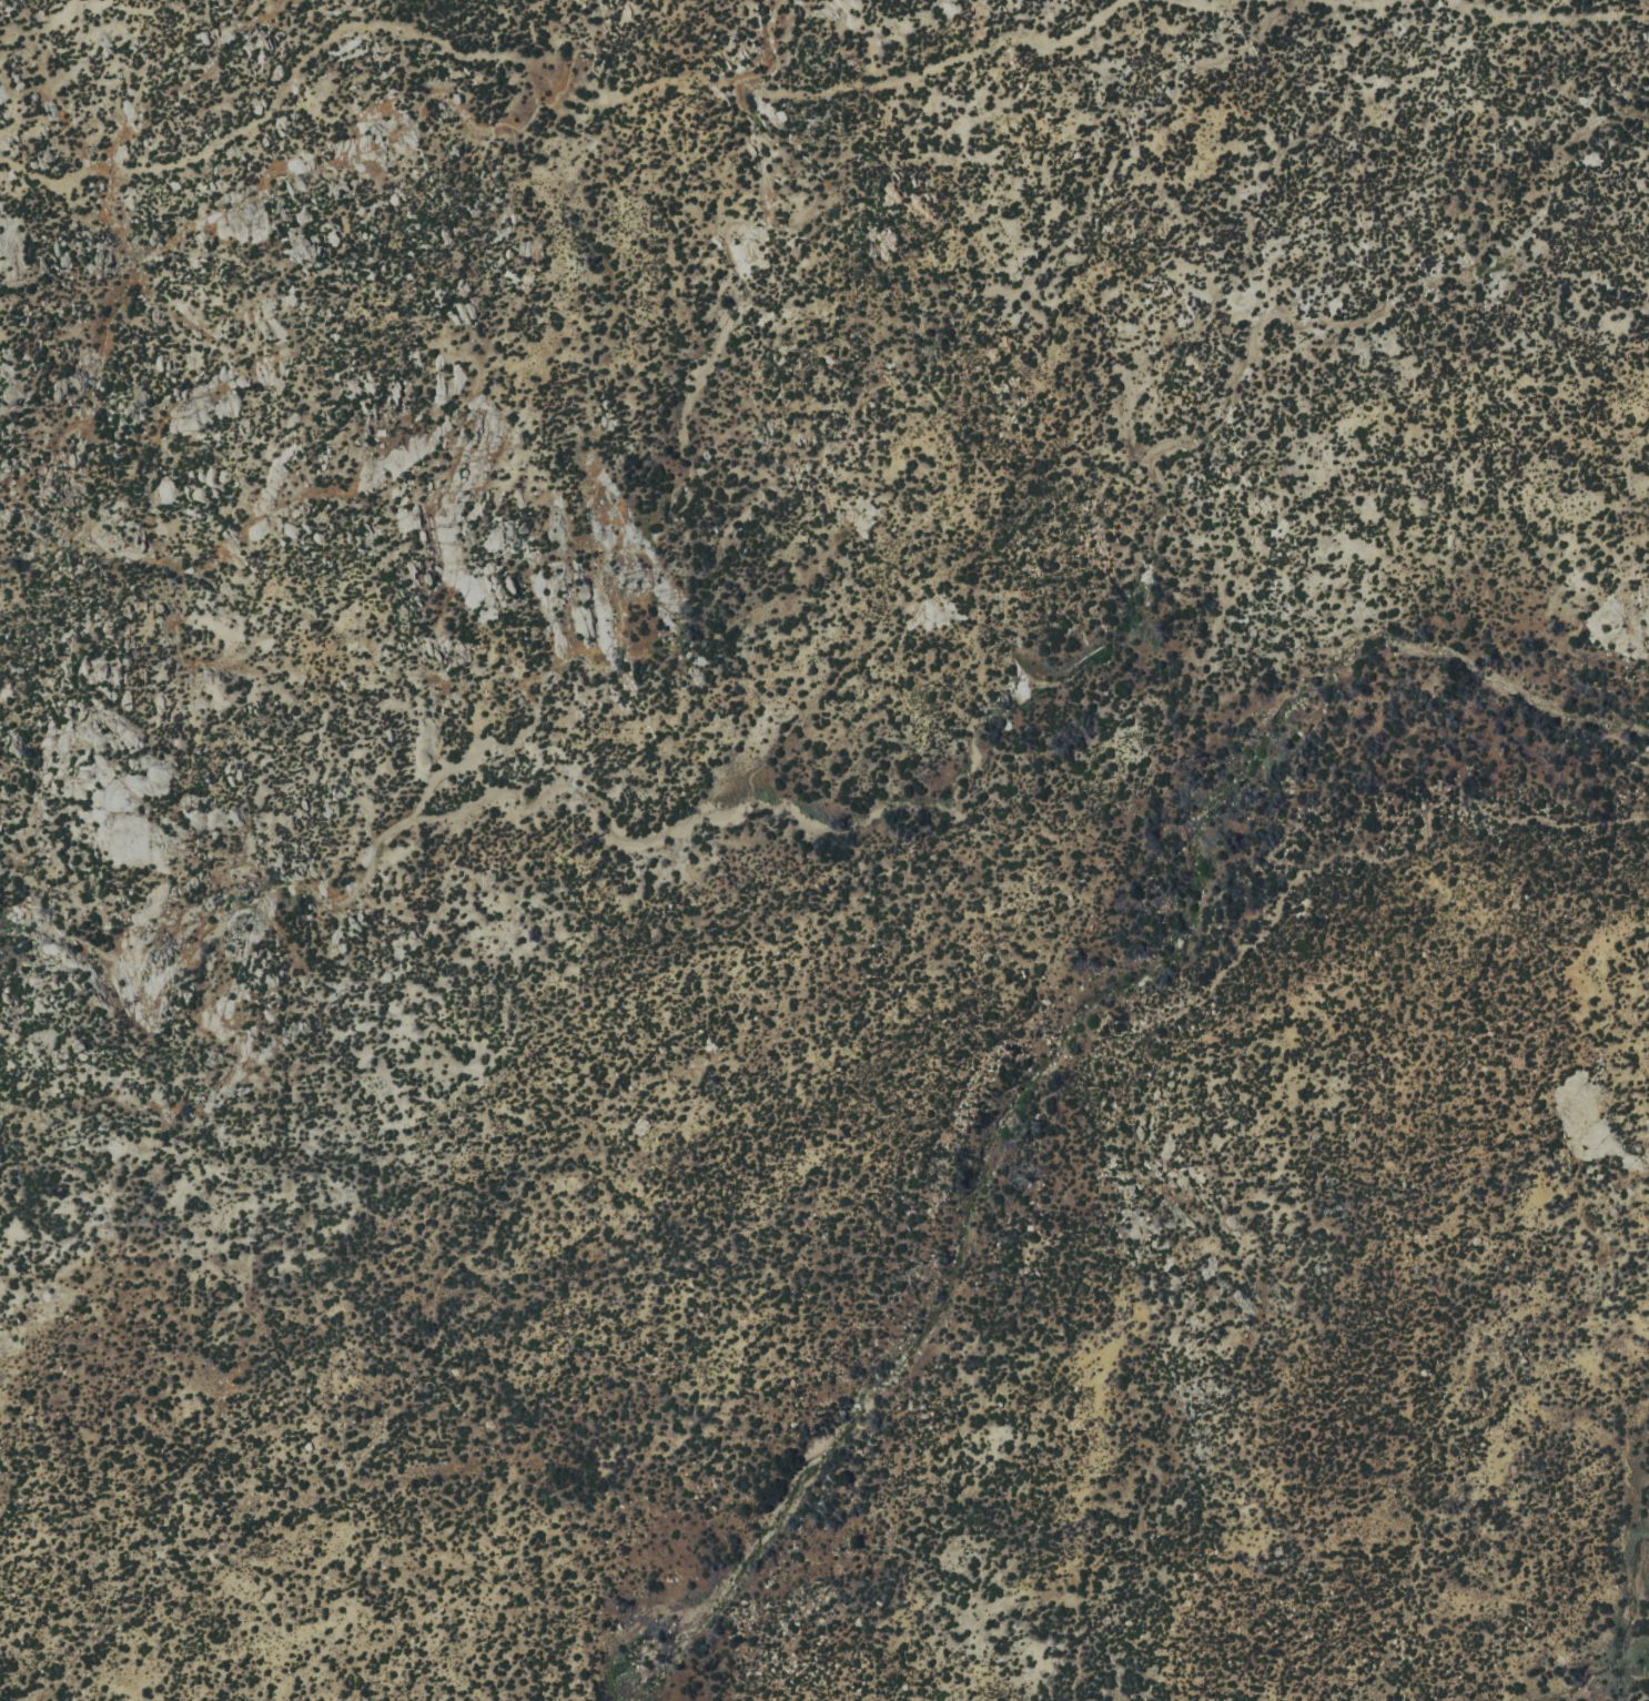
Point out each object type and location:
road: (1228, 10)
road: (1557, 16)
road: (544, 79)

